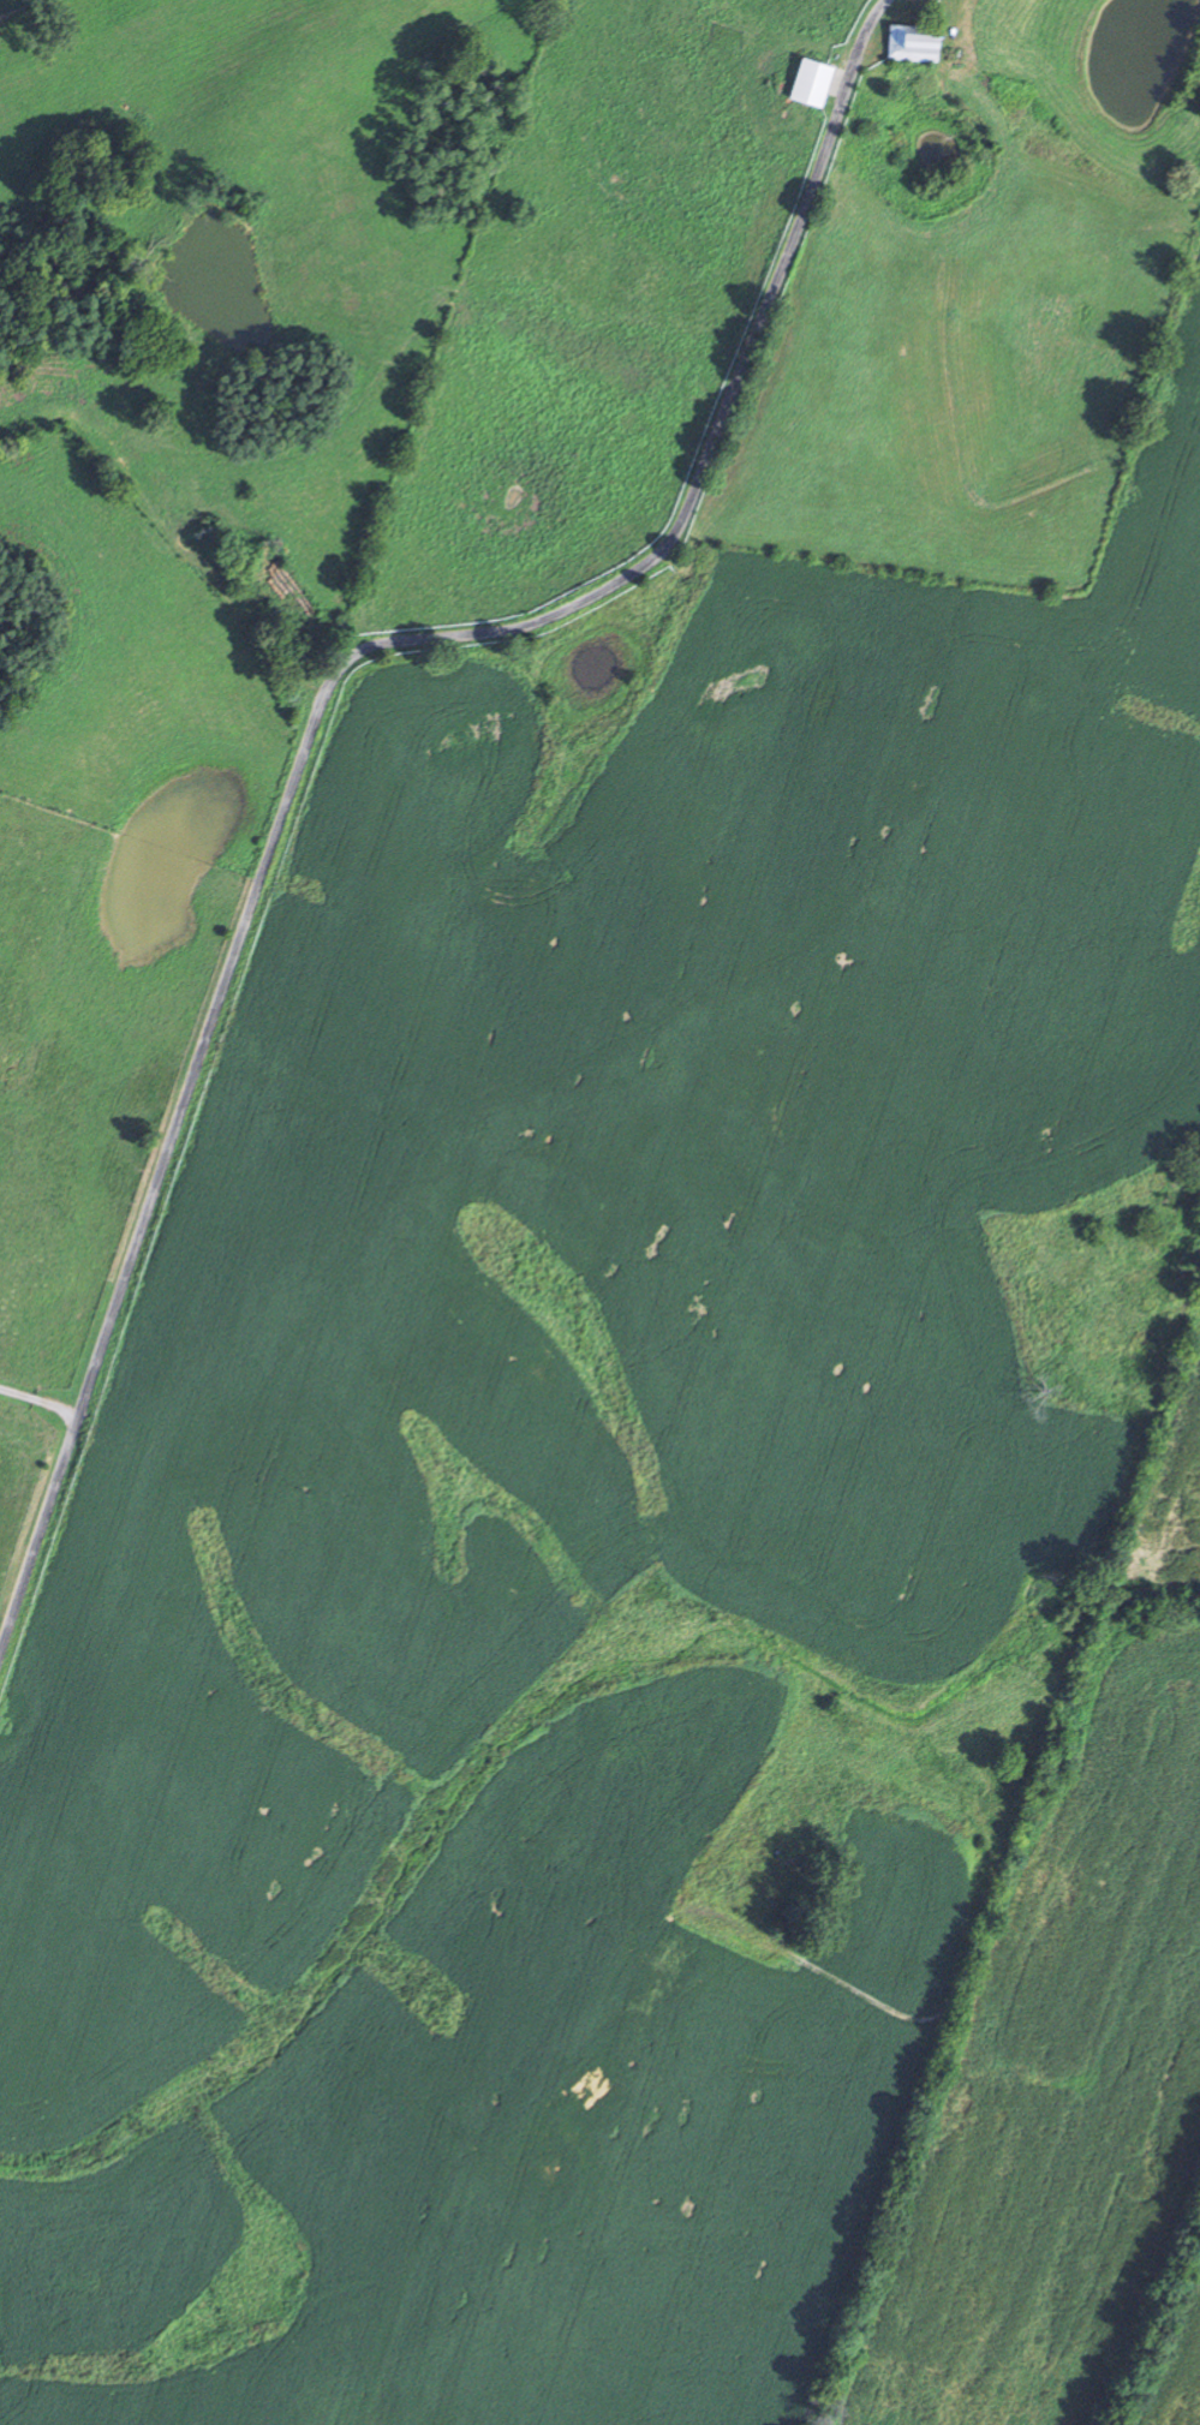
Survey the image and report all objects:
park: (726, 37)
road: (320, 718)
road: (107, 987)
road: (1034, 1761)

